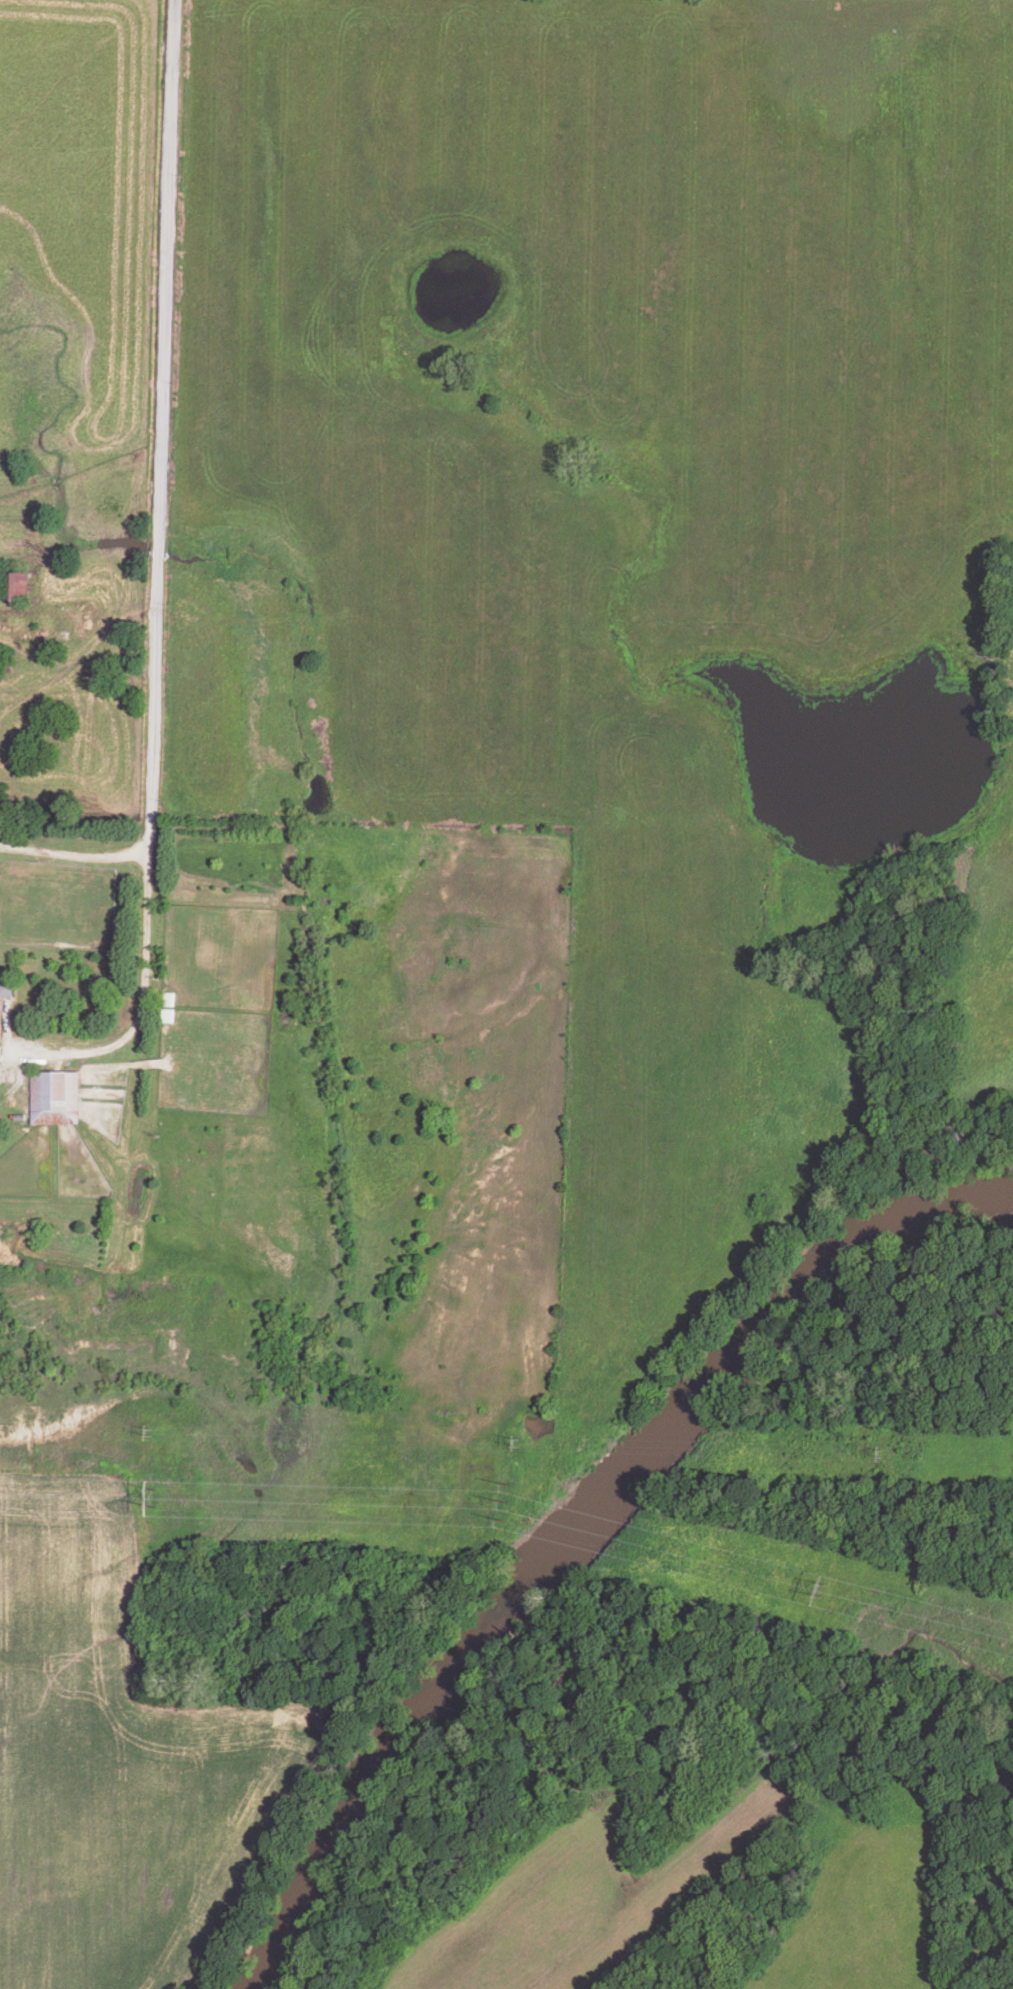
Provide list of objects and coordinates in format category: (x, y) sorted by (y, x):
road: (163, 427)
road: (75, 852)
building: (6, 986)
road: (145, 1008)
power tower: (152, 1431)
power tower: (520, 1440)
power tower: (885, 1446)
power tower: (158, 1495)
power tower: (513, 1506)
river: (569, 1515)
power tower: (826, 1588)

